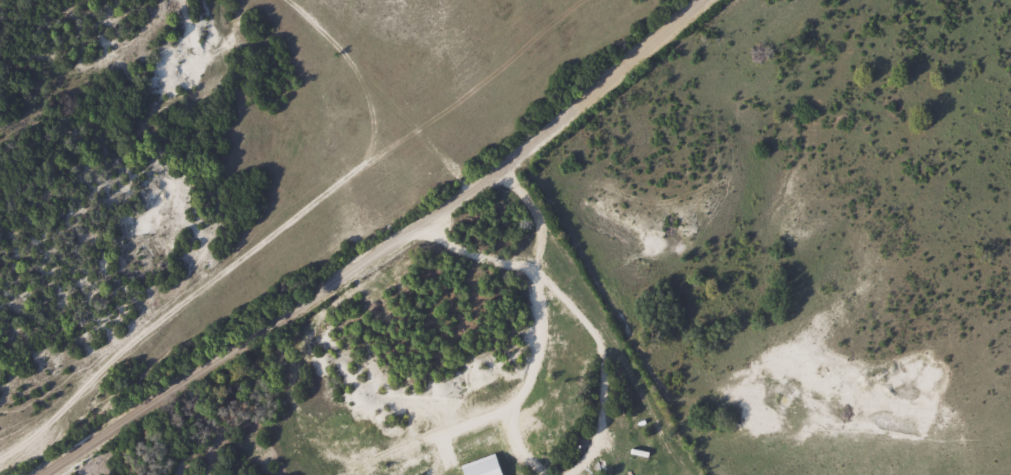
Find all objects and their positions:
road: (390, 252)

